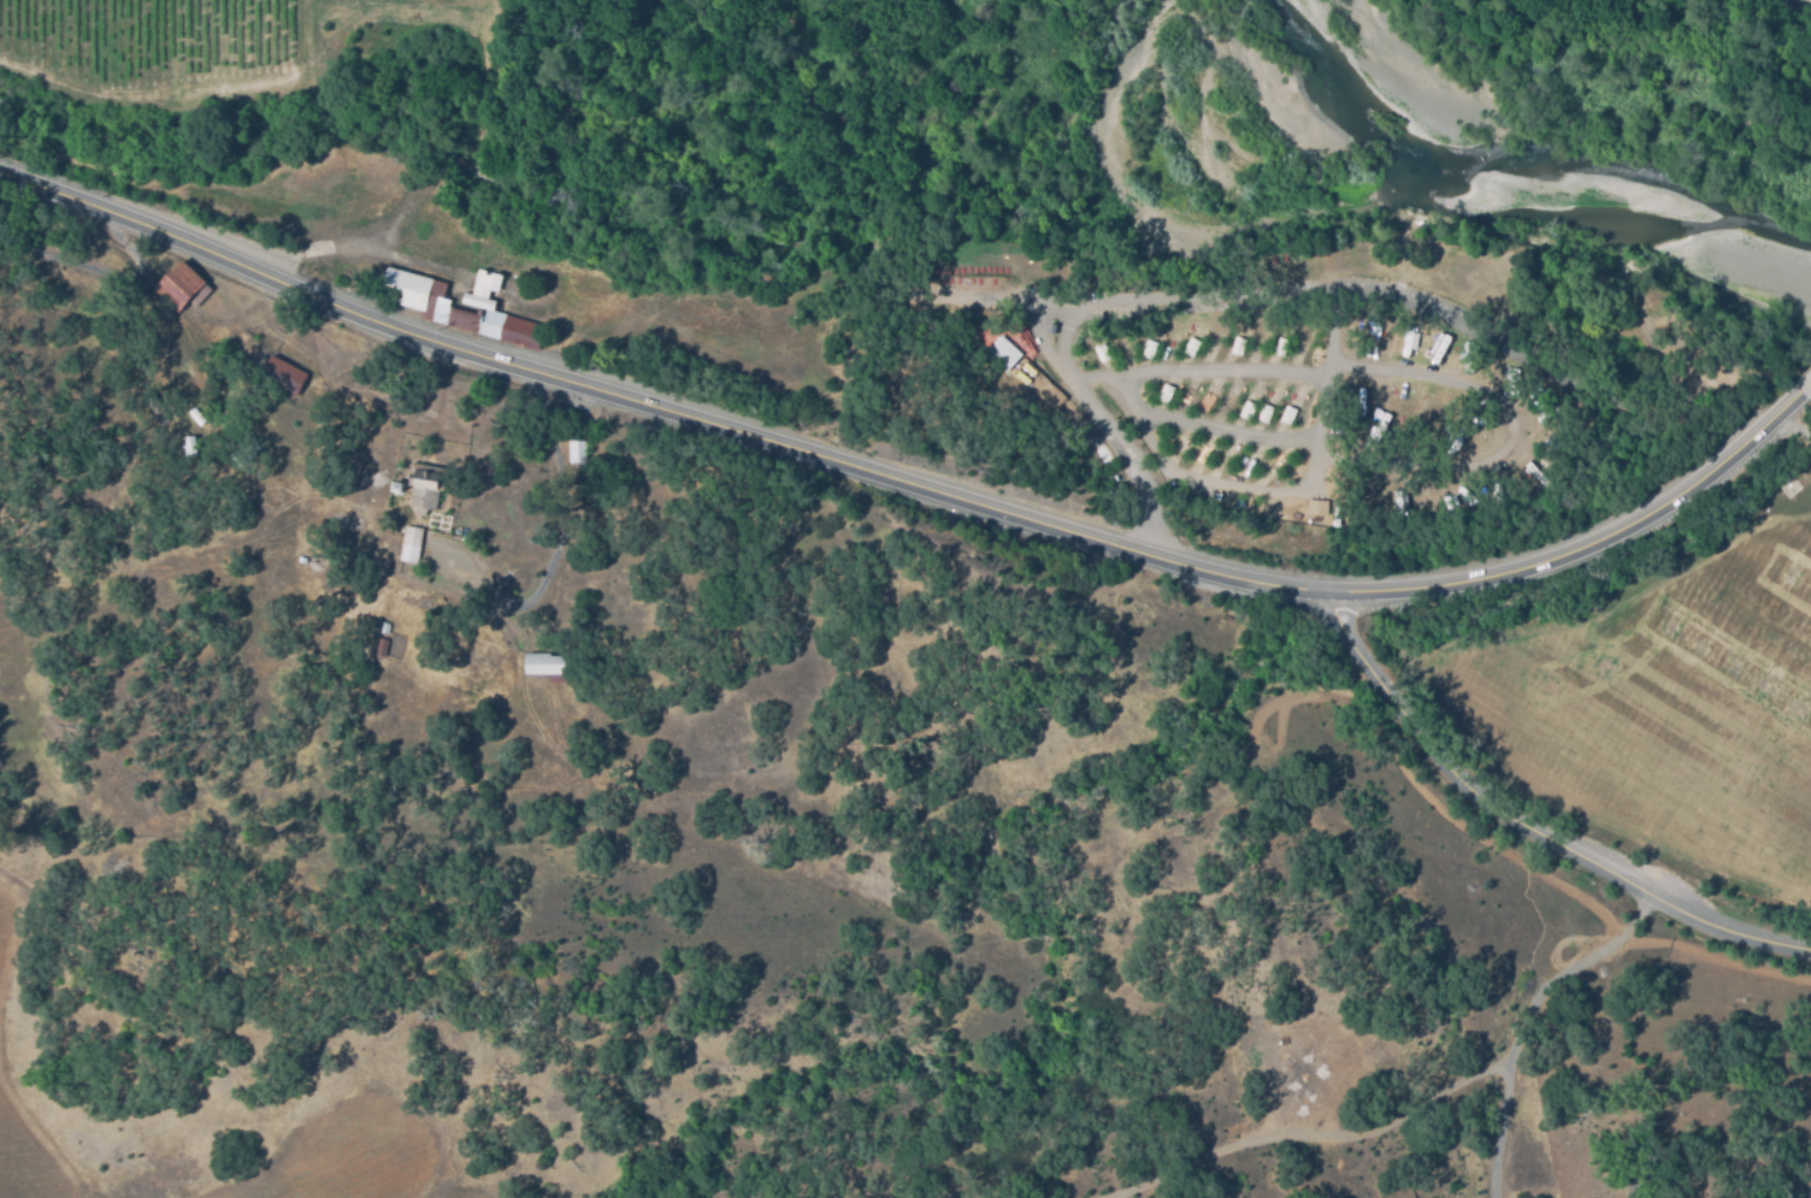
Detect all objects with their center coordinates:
river: (1524, 184)
building: (491, 284)
building: (184, 288)
building: (408, 289)
building: (440, 302)
building: (483, 302)
building: (467, 320)
building: (515, 330)
building: (1003, 354)
building: (285, 377)
building: (1034, 380)
road: (1807, 390)
building: (158, 408)
building: (195, 415)
road: (1231, 429)
building: (190, 445)
building: (247, 450)
building: (578, 450)
building: (429, 486)
road: (912, 486)
building: (399, 488)
building: (1528, 488)
road: (1234, 489)
building: (1314, 507)
road: (565, 530)
building: (412, 544)
building: (383, 626)
building: (383, 647)
building: (547, 663)
road: (1528, 827)

